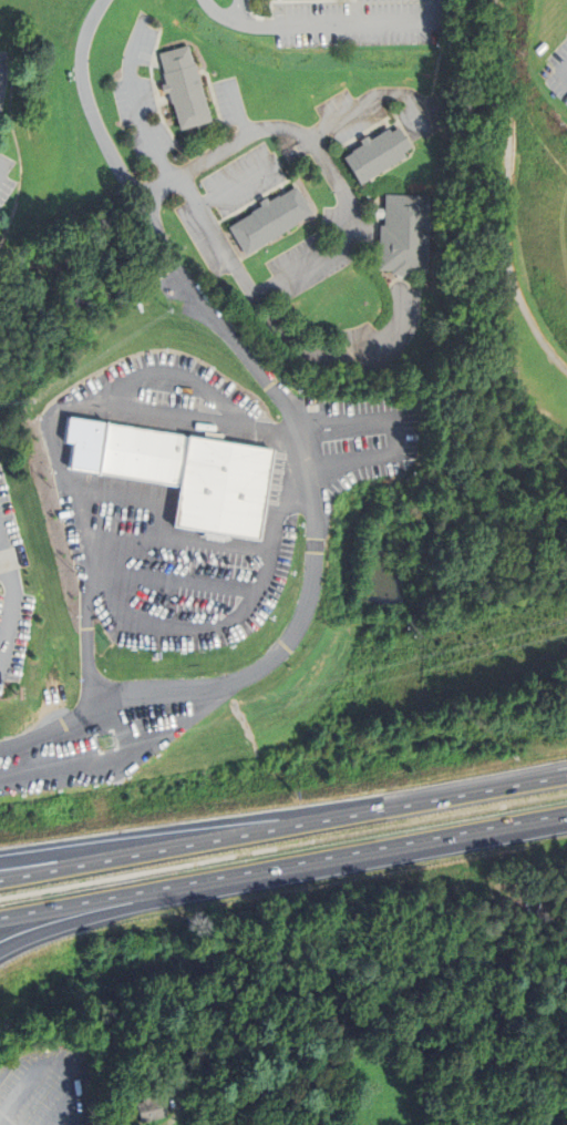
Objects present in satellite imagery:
road: (308, 21)
road: (565, 72)
building: (185, 86)
road: (94, 130)
building: (378, 151)
road: (234, 184)
building: (271, 216)
building: (405, 232)
road: (301, 266)
road: (62, 432)
building: (91, 461)
building: (194, 474)
road: (317, 530)
road: (1, 560)
road: (11, 604)
road: (51, 728)
power tower: (106, 740)
road: (282, 821)
road: (75, 853)
road: (283, 865)
road: (131, 909)
road: (54, 1062)
building: (152, 1109)
road: (3, 1123)

